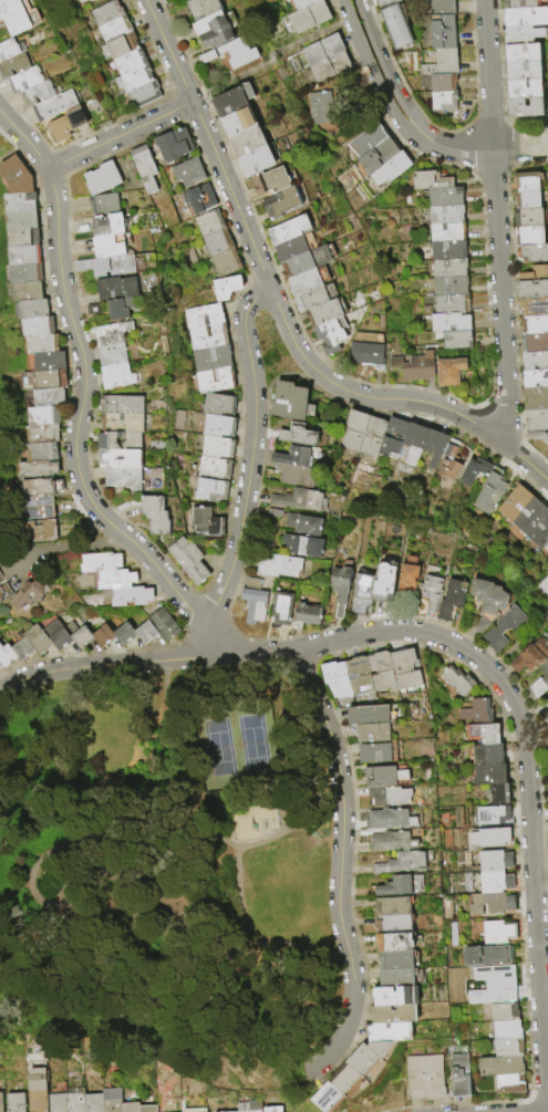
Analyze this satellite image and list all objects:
building: (83, 1)
building: (386, 2)
building: (302, 3)
building: (520, 3)
building: (442, 7)
building: (201, 8)
building: (105, 12)
building: (18, 15)
building: (310, 17)
building: (526, 17)
building: (396, 28)
building: (114, 29)
building: (213, 30)
building: (443, 31)
building: (524, 35)
building: (121, 45)
building: (323, 48)
building: (11, 50)
building: (524, 53)
building: (227, 56)
building: (128, 61)
building: (442, 62)
building: (14, 65)
building: (329, 65)
road: (386, 70)
building: (525, 71)
road: (372, 75)
building: (133, 79)
building: (25, 80)
building: (547, 80)
building: (443, 82)
building: (525, 89)
building: (38, 94)
building: (143, 94)
building: (232, 100)
building: (443, 100)
building: (55, 105)
building: (319, 107)
building: (526, 107)
road: (3, 114)
building: (238, 121)
building: (69, 123)
road: (15, 129)
road: (118, 135)
building: (247, 139)
building: (366, 139)
building: (173, 144)
road: (209, 144)
road: (484, 147)
building: (378, 156)
building: (257, 159)
building: (144, 168)
building: (390, 169)
building: (188, 174)
building: (17, 175)
building: (102, 178)
building: (270, 179)
building: (428, 181)
building: (524, 183)
building: (444, 197)
building: (199, 199)
building: (525, 200)
building: (20, 201)
building: (281, 201)
building: (104, 204)
building: (444, 215)
building: (526, 218)
building: (22, 219)
road: (496, 220)
building: (208, 222)
building: (108, 225)
building: (289, 229)
building: (446, 232)
building: (527, 236)
building: (24, 237)
building: (217, 242)
building: (108, 246)
building: (294, 247)
building: (446, 250)
building: (531, 254)
building: (25, 256)
building: (308, 261)
building: (225, 262)
building: (113, 266)
building: (447, 268)
building: (24, 273)
building: (535, 274)
building: (309, 280)
building: (448, 285)
building: (227, 287)
building: (116, 288)
building: (533, 290)
building: (25, 291)
building: (314, 295)
building: (446, 304)
building: (534, 308)
building: (32, 309)
building: (121, 309)
building: (323, 312)
building: (203, 315)
building: (448, 323)
building: (38, 325)
road: (286, 325)
building: (535, 325)
road: (244, 330)
building: (112, 333)
building: (332, 335)
building: (207, 336)
building: (455, 340)
building: (40, 344)
building: (535, 344)
park: (269, 351)
building: (365, 351)
building: (112, 354)
building: (211, 358)
building: (46, 361)
building: (535, 361)
building: (416, 367)
building: (448, 372)
building: (116, 375)
building: (51, 378)
building: (214, 380)
building: (535, 380)
building: (49, 397)
building: (536, 398)
building: (290, 402)
road: (80, 404)
building: (218, 404)
road: (432, 404)
building: (121, 405)
building: (44, 415)
building: (536, 419)
building: (121, 424)
building: (217, 426)
building: (352, 430)
building: (43, 434)
building: (299, 435)
building: (371, 437)
building: (392, 437)
building: (537, 437)
building: (413, 439)
building: (120, 443)
building: (216, 447)
building: (433, 447)
building: (42, 451)
building: (296, 456)
building: (118, 458)
building: (448, 461)
building: (213, 468)
building: (39, 470)
building: (473, 471)
building: (293, 475)
building: (149, 476)
building: (123, 477)
building: (41, 487)
building: (210, 489)
building: (488, 491)
building: (300, 500)
building: (513, 503)
building: (39, 507)
building: (275, 513)
building: (155, 515)
building: (205, 522)
road: (241, 522)
building: (533, 522)
building: (304, 524)
building: (40, 530)
road: (65, 545)
building: (304, 545)
building: (187, 560)
building: (100, 561)
building: (280, 567)
building: (407, 575)
building: (0, 576)
building: (115, 579)
building: (383, 581)
building: (340, 586)
building: (542, 586)
building: (4, 592)
building: (361, 592)
building: (431, 592)
building: (31, 593)
building: (131, 595)
building: (451, 600)
building: (252, 601)
building: (486, 602)
building: (281, 610)
building: (307, 615)
building: (164, 624)
building: (503, 628)
building: (145, 632)
building: (125, 634)
building: (56, 635)
building: (103, 635)
building: (81, 637)
building: (37, 640)
building: (22, 648)
building: (6, 655)
building: (530, 657)
road: (144, 662)
building: (547, 662)
building: (0, 665)
building: (404, 668)
building: (381, 669)
building: (359, 675)
building: (455, 682)
building: (338, 683)
building: (539, 687)
building: (547, 702)
building: (474, 714)
building: (368, 715)
building: (546, 721)
building: (373, 732)
building: (480, 735)
park: (237, 745)
building: (375, 752)
building: (484, 756)
building: (384, 776)
building: (486, 776)
road: (527, 781)
building: (387, 796)
building: (496, 796)
building: (489, 817)
road: (197, 818)
building: (390, 819)
building: (487, 839)
building: (391, 841)
building: (402, 862)
building: (489, 862)
road: (340, 863)
park: (164, 869)
building: (492, 884)
building: (395, 885)
building: (493, 905)
building: (393, 906)
building: (393, 924)
building: (495, 934)
building: (395, 942)
building: (483, 957)
building: (395, 959)
building: (396, 977)
building: (492, 986)
building: (396, 995)
building: (394, 1014)
building: (500, 1014)
building: (390, 1031)
building: (504, 1031)
building: (505, 1049)
building: (366, 1056)
building: (497, 1068)
building: (459, 1075)
building: (434, 1077)
building: (415, 1078)
building: (345, 1079)
building: (507, 1085)
building: (37, 1090)
building: (328, 1097)
building: (58, 1098)
building: (76, 1100)
building: (112, 1100)
building: (1, 1102)
building: (15, 1102)
building: (94, 1102)
building: (130, 1106)
building: (249, 1106)
building: (147, 1109)
building: (272, 1109)
building: (194, 1110)

